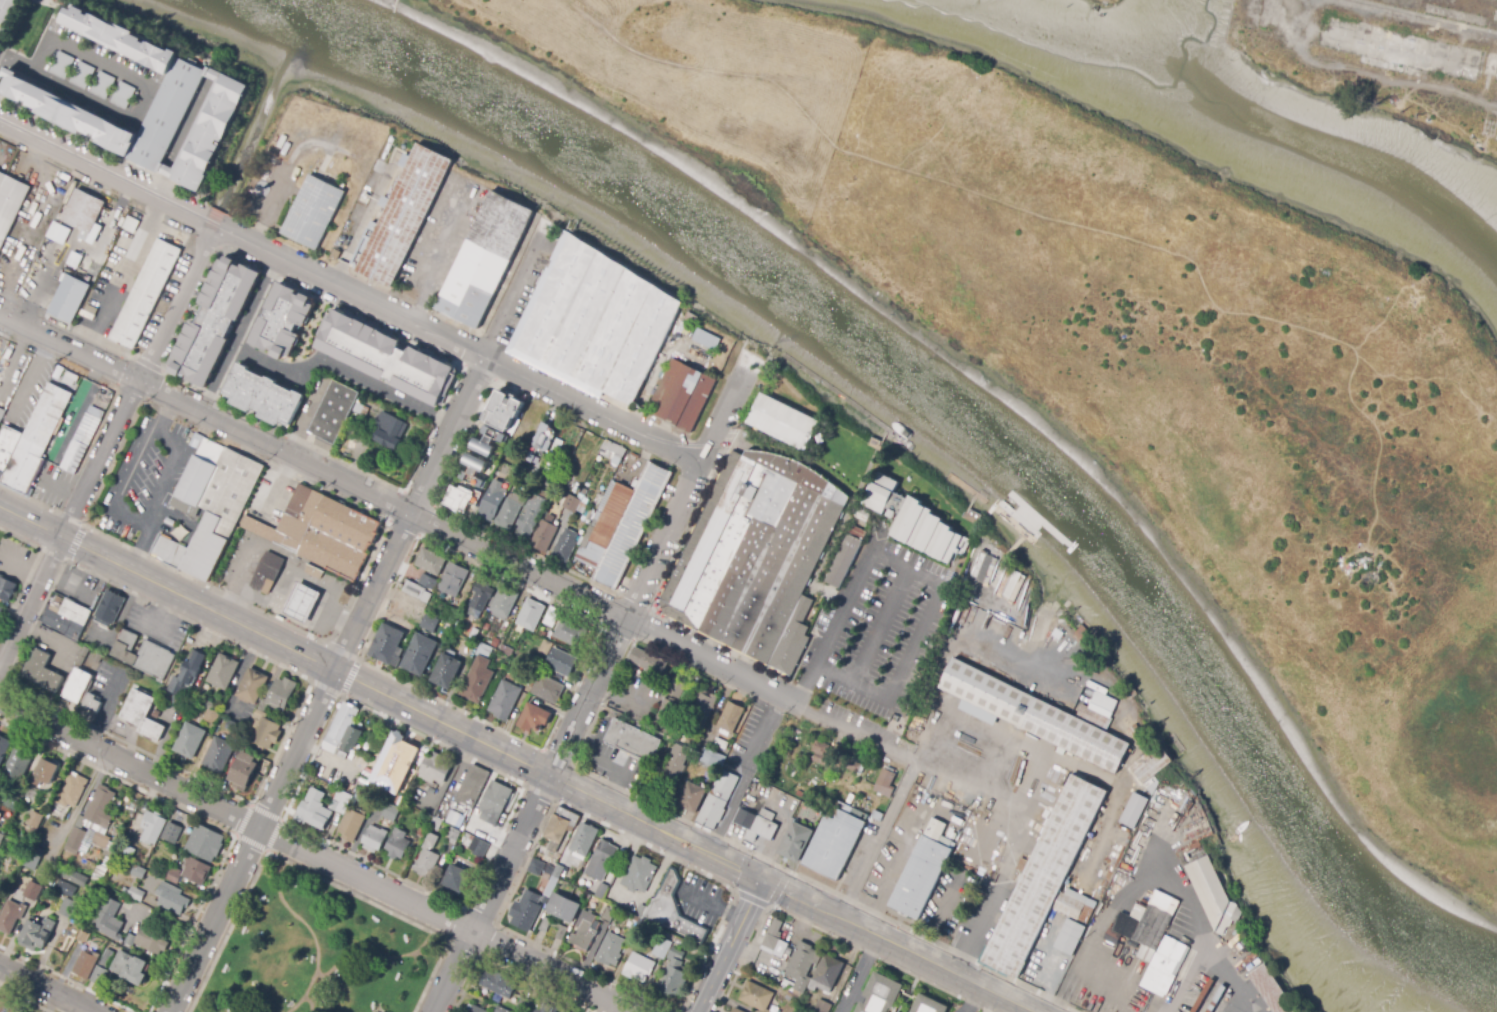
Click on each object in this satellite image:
building: (8, 17)
road: (13, 61)
road: (705, 70)
park: (704, 77)
building: (184, 83)
road: (147, 87)
building: (215, 133)
road: (182, 141)
building: (8, 193)
building: (71, 212)
building: (317, 212)
building: (402, 216)
building: (131, 224)
building: (57, 232)
building: (482, 260)
building: (139, 286)
building: (64, 293)
road: (351, 293)
road: (259, 303)
building: (571, 309)
building: (89, 312)
building: (691, 318)
building: (287, 320)
building: (219, 321)
building: (687, 330)
building: (709, 338)
building: (631, 340)
building: (711, 354)
building: (385, 356)
road: (312, 363)
building: (104, 391)
building: (267, 395)
building: (689, 399)
building: (505, 405)
building: (332, 408)
building: (361, 408)
building: (0, 409)
road: (163, 414)
building: (784, 421)
river: (943, 425)
building: (387, 430)
building: (77, 435)
building: (30, 436)
building: (544, 438)
building: (820, 438)
building: (486, 440)
building: (557, 443)
road: (106, 444)
building: (609, 450)
building: (474, 464)
building: (196, 469)
parking lot: (144, 476)
building: (228, 484)
building: (551, 485)
building: (884, 492)
building: (458, 495)
building: (567, 500)
building: (487, 502)
building: (506, 508)
building: (525, 512)
building: (865, 517)
road: (385, 519)
road: (142, 522)
building: (617, 522)
building: (321, 529)
building: (928, 529)
building: (540, 534)
road: (460, 538)
building: (561, 541)
road: (74, 543)
building: (206, 545)
building: (167, 549)
building: (757, 557)
building: (845, 561)
building: (431, 562)
building: (979, 566)
building: (263, 570)
building: (990, 571)
building: (314, 572)
building: (997, 573)
building: (453, 580)
building: (427, 582)
building: (1013, 582)
building: (6, 589)
building: (416, 592)
building: (481, 596)
building: (300, 601)
building: (1019, 601)
building: (504, 603)
road: (934, 604)
building: (110, 606)
building: (1, 610)
building: (407, 610)
building: (451, 614)
building: (531, 614)
building: (67, 617)
building: (552, 617)
road: (354, 623)
building: (429, 624)
road: (597, 627)
building: (571, 633)
road: (275, 638)
building: (495, 642)
building: (544, 647)
building: (1117, 648)
building: (402, 649)
building: (508, 651)
building: (496, 652)
building: (144, 654)
building: (561, 662)
building: (648, 662)
building: (44, 671)
building: (225, 671)
building: (189, 672)
building: (446, 672)
building: (478, 676)
road: (350, 678)
road: (591, 684)
road: (805, 684)
building: (79, 685)
building: (254, 685)
building: (674, 688)
building: (548, 689)
building: (691, 690)
building: (283, 694)
building: (505, 700)
building: (175, 701)
building: (94, 702)
building: (705, 705)
building: (665, 713)
building: (144, 714)
building: (156, 714)
building: (1047, 715)
building: (212, 716)
building: (733, 717)
building: (1124, 718)
building: (534, 719)
building: (254, 722)
building: (232, 727)
building: (344, 731)
building: (267, 733)
building: (673, 735)
building: (1136, 735)
road: (762, 736)
building: (191, 740)
building: (634, 742)
building: (721, 743)
building: (4, 748)
building: (820, 752)
building: (221, 754)
building: (711, 758)
building: (19, 763)
building: (398, 764)
building: (675, 764)
building: (847, 765)
building: (247, 768)
building: (437, 768)
building: (1152, 770)
building: (645, 771)
building: (45, 772)
road: (523, 785)
building: (887, 785)
building: (474, 786)
building: (452, 789)
building: (431, 791)
building: (799, 794)
building: (34, 795)
building: (69, 796)
building: (692, 796)
building: (14, 798)
building: (497, 799)
building: (719, 799)
building: (850, 799)
building: (339, 801)
building: (397, 802)
road: (250, 803)
building: (319, 809)
building: (1133, 809)
road: (75, 810)
building: (392, 812)
building: (877, 815)
building: (0, 816)
road: (729, 816)
building: (429, 818)
building: (34, 820)
building: (94, 820)
road: (205, 821)
road: (280, 821)
building: (761, 822)
building: (436, 824)
building: (561, 824)
building: (353, 825)
building: (152, 827)
building: (423, 828)
road: (653, 828)
building: (172, 833)
building: (453, 836)
road: (1020, 836)
building: (479, 837)
building: (377, 838)
road: (877, 838)
building: (585, 840)
building: (837, 841)
building: (798, 842)
building: (205, 843)
building: (40, 844)
building: (399, 844)
building: (130, 853)
road: (317, 856)
building: (427, 857)
building: (35, 859)
building: (602, 861)
building: (196, 871)
building: (138, 872)
building: (925, 872)
building: (100, 873)
building: (545, 873)
road: (312, 874)
building: (639, 874)
building: (175, 875)
building: (75, 877)
building: (1049, 879)
traffic signals: (759, 880)
building: (456, 883)
building: (1212, 885)
building: (596, 887)
building: (66, 889)
building: (601, 890)
road: (883, 890)
building: (32, 891)
building: (136, 893)
road: (1125, 894)
building: (173, 899)
building: (545, 900)
road: (768, 905)
building: (132, 906)
building: (66, 907)
building: (564, 908)
building: (526, 911)
building: (671, 911)
building: (609, 915)
building: (11, 916)
building: (110, 920)
building: (631, 924)
building: (1148, 925)
building: (643, 928)
building: (562, 929)
building: (37, 934)
building: (83, 935)
building: (585, 935)
building: (1068, 936)
building: (130, 940)
building: (152, 940)
building: (775, 941)
road: (1208, 944)
road: (894, 945)
road: (727, 946)
building: (663, 948)
building: (611, 950)
park: (322, 953)
building: (86, 964)
building: (1168, 966)
building: (103, 967)
building: (131, 967)
building: (639, 968)
building: (801, 970)
building: (828, 971)
building: (674, 973)
road: (1048, 974)
road: (862, 975)
road: (65, 979)
building: (497, 984)
road: (45, 989)
building: (1277, 990)
building: (882, 994)
building: (756, 996)
building: (1213, 996)
road: (968, 999)
road: (24, 1000)
building: (931, 1003)
building: (525, 1005)
building: (8, 1007)
building: (822, 1007)
building: (547, 1008)
building: (474, 1009)
building: (502, 1010)
road: (676, 1010)
building: (737, 1010)

